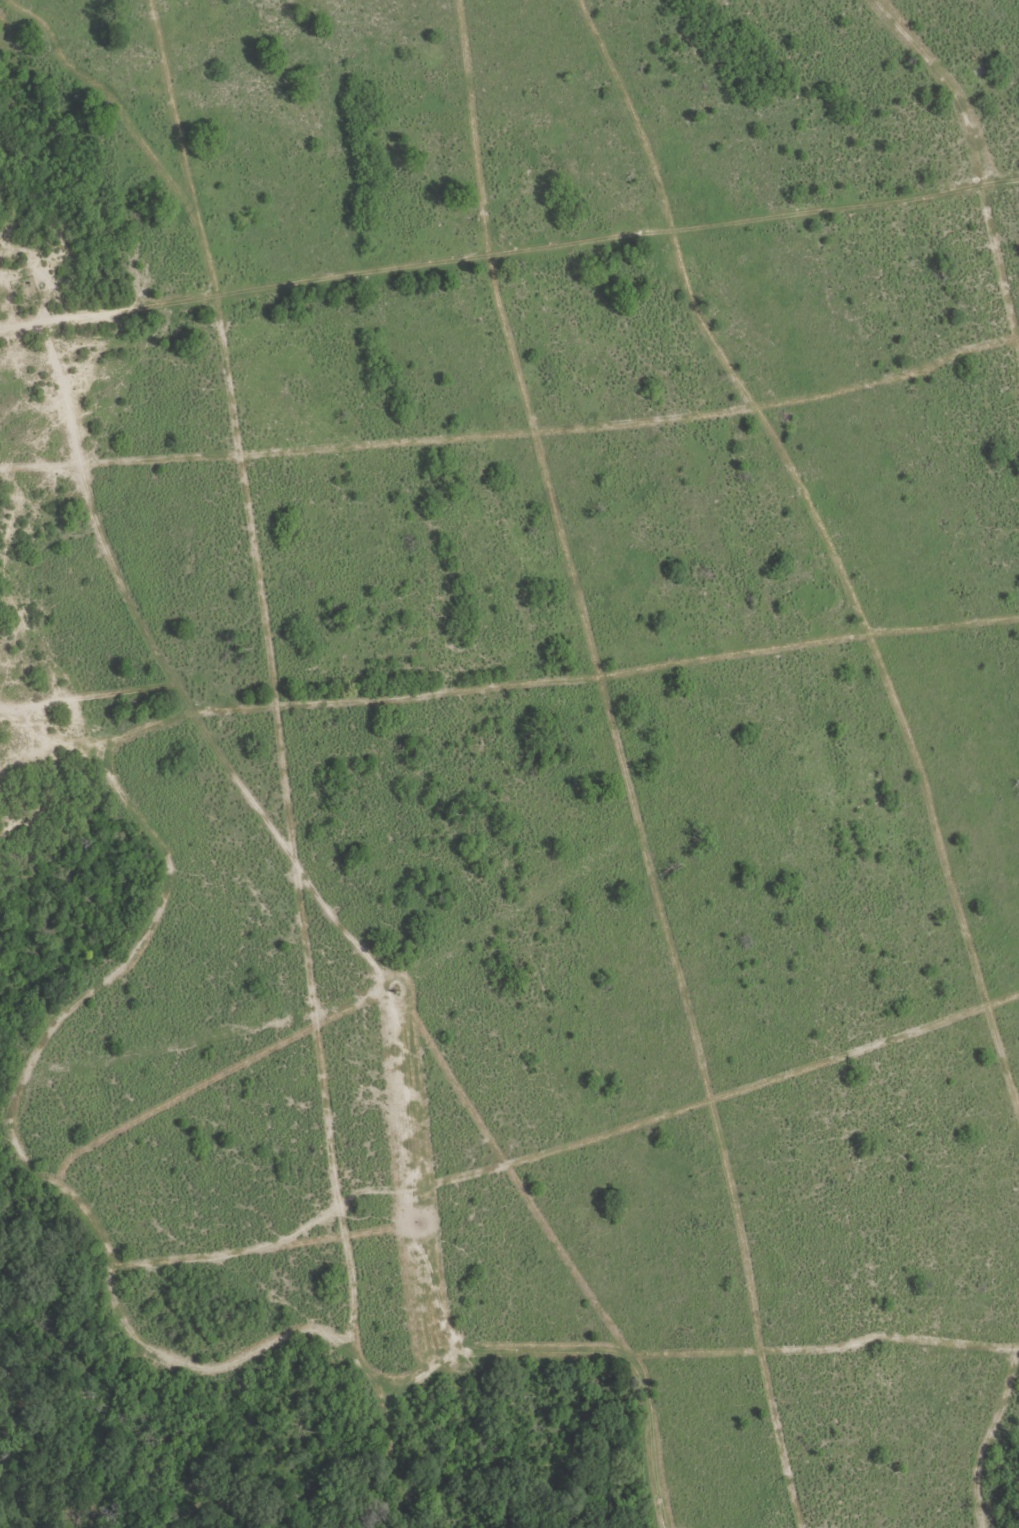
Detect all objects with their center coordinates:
road: (173, 153)
road: (508, 257)
road: (516, 1020)

